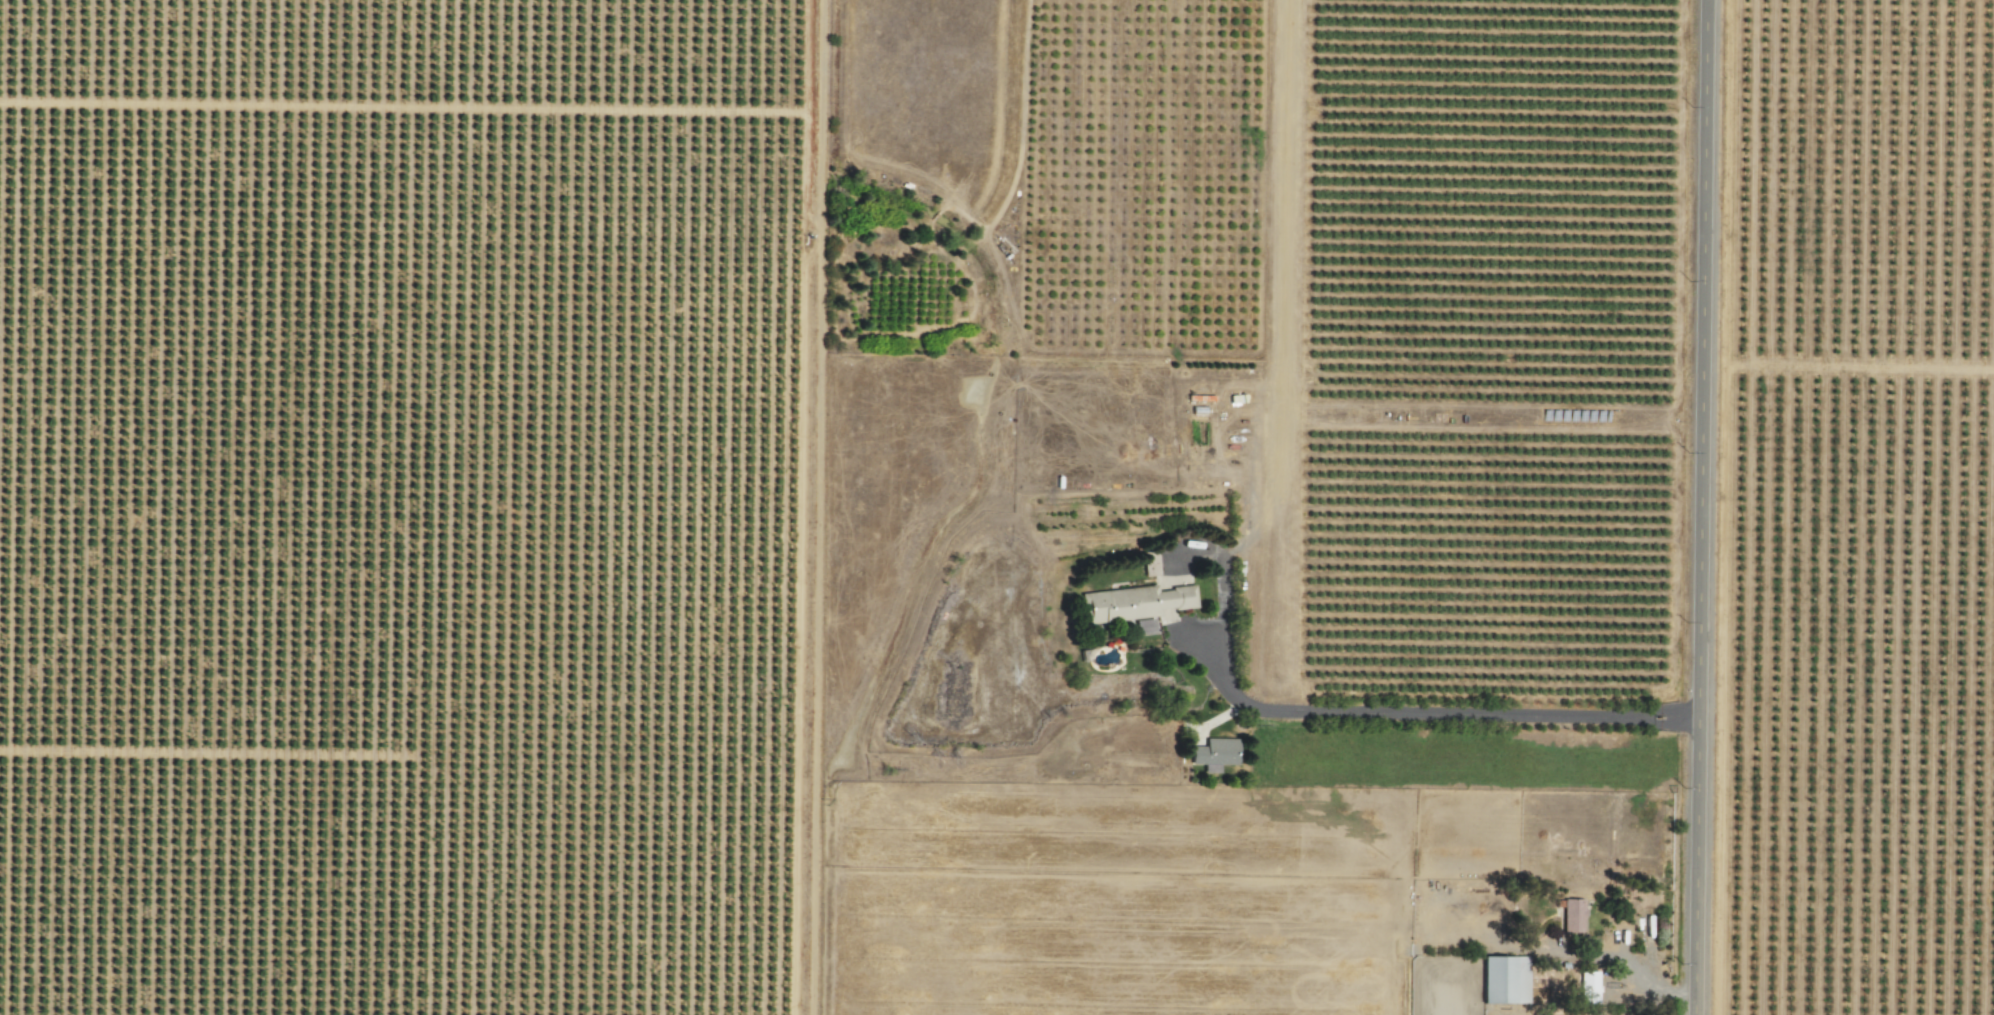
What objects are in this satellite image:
road: (1699, 507)
building: (1133, 603)
building: (1141, 626)
building: (1213, 754)
building: (1571, 916)
building: (1503, 981)
building: (1587, 987)

